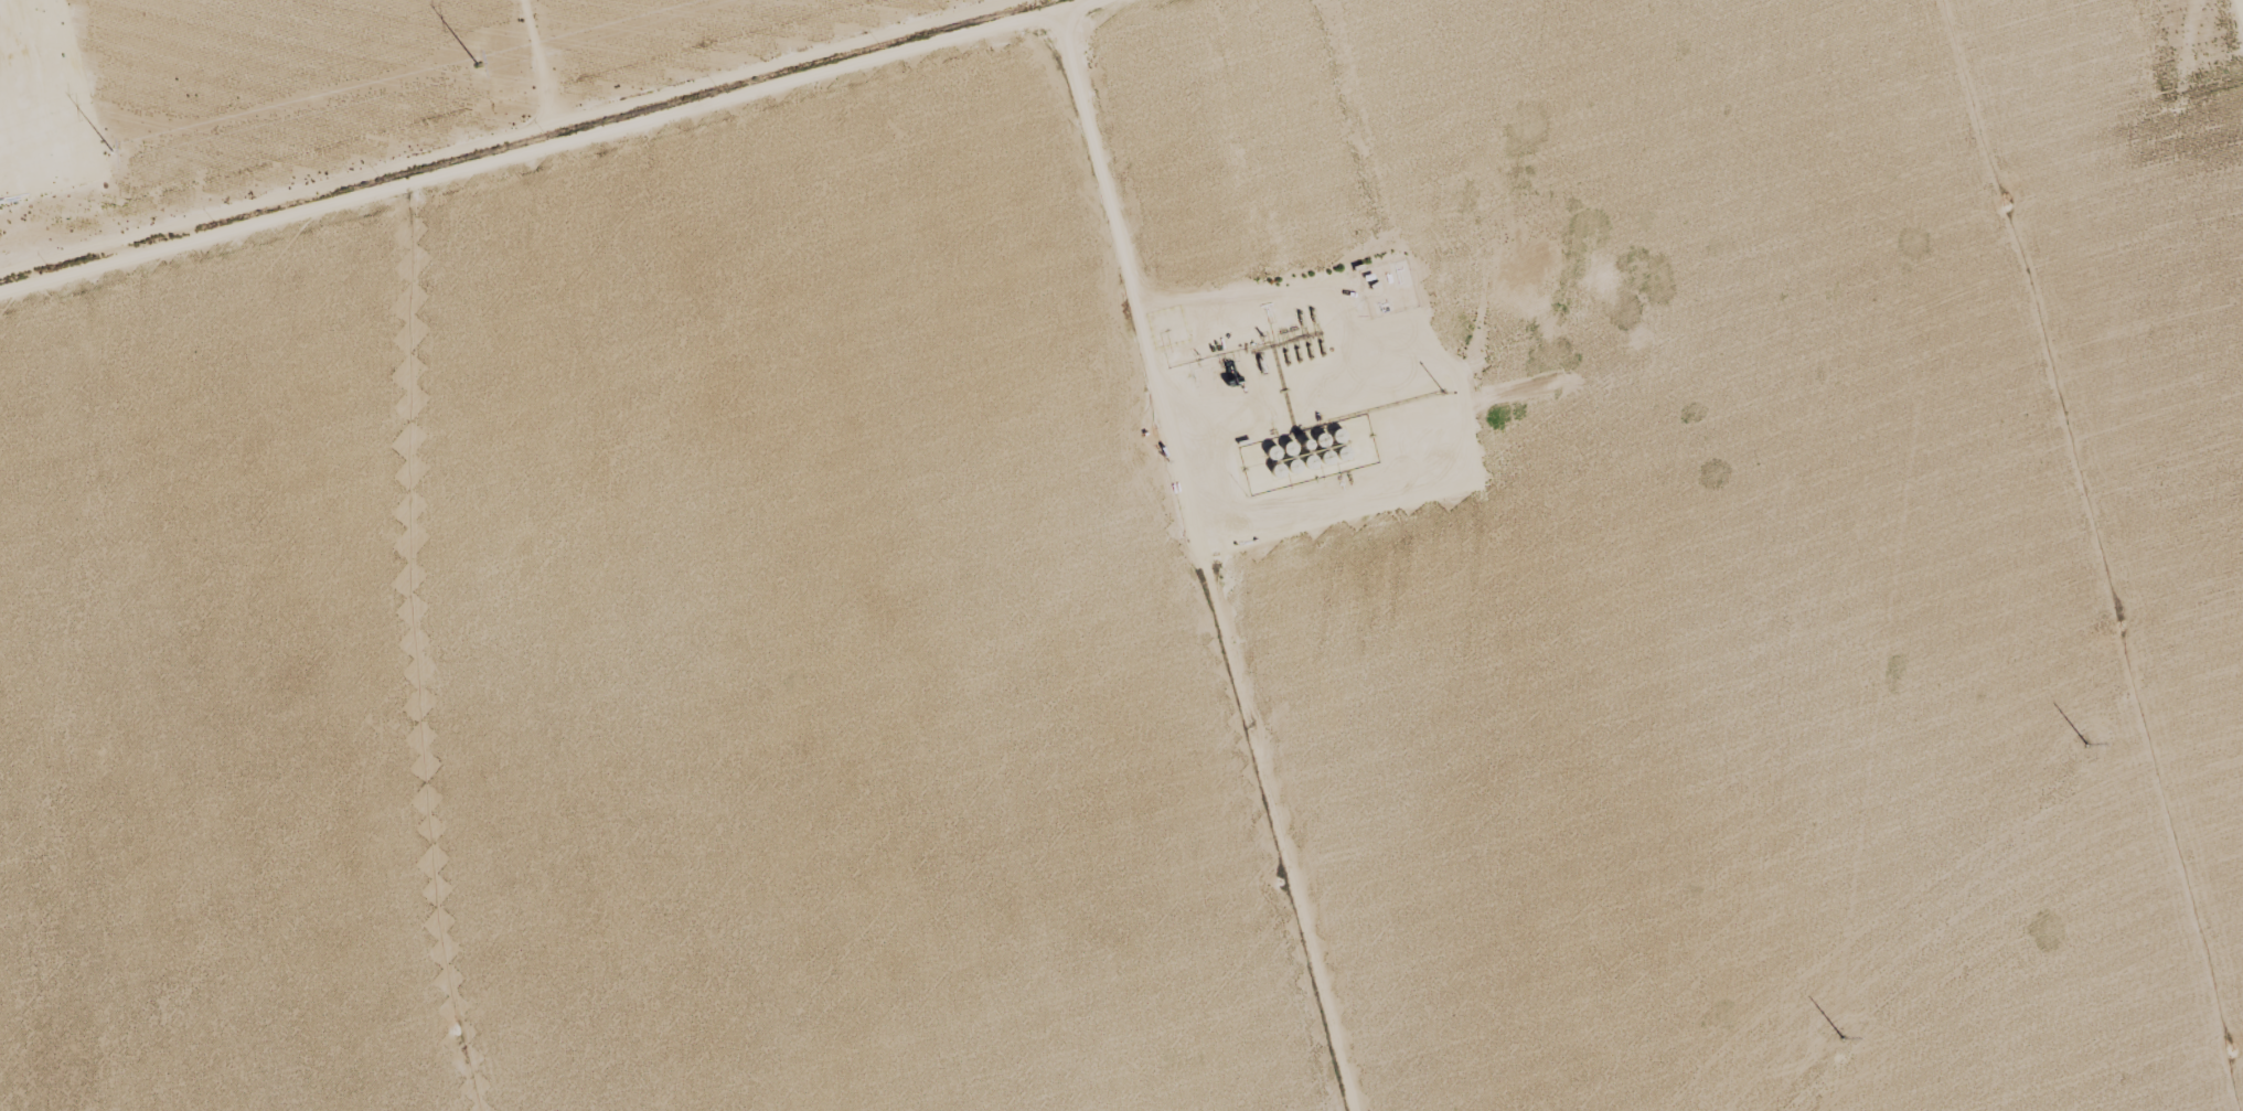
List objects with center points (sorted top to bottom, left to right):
power tower: (480, 62)
power tower: (113, 149)
power tower: (2094, 735)
power tower: (1849, 1028)

